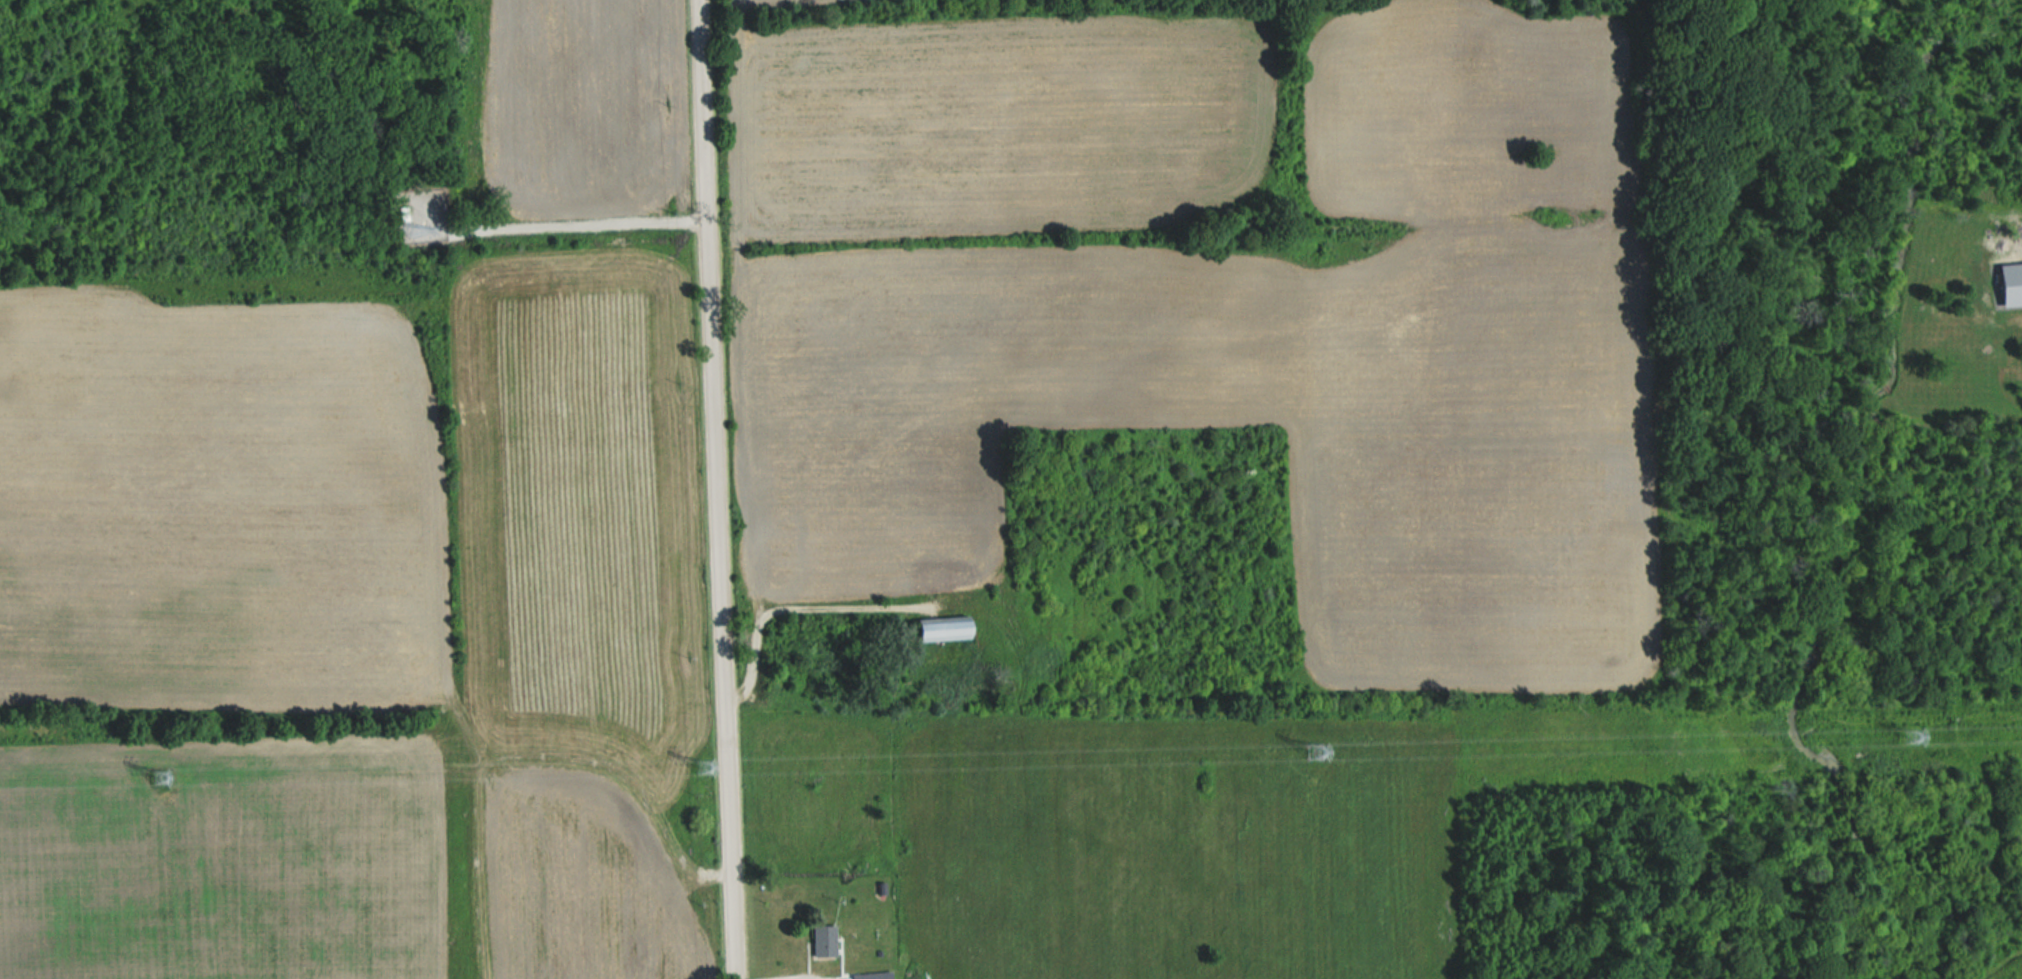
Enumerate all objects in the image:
road: (584, 223)
building: (2010, 282)
road: (712, 489)
road: (789, 607)
building: (942, 627)
power tower: (1907, 736)
power tower: (1319, 750)
power tower: (701, 770)
power tower: (161, 778)
building: (823, 940)
building: (872, 975)

